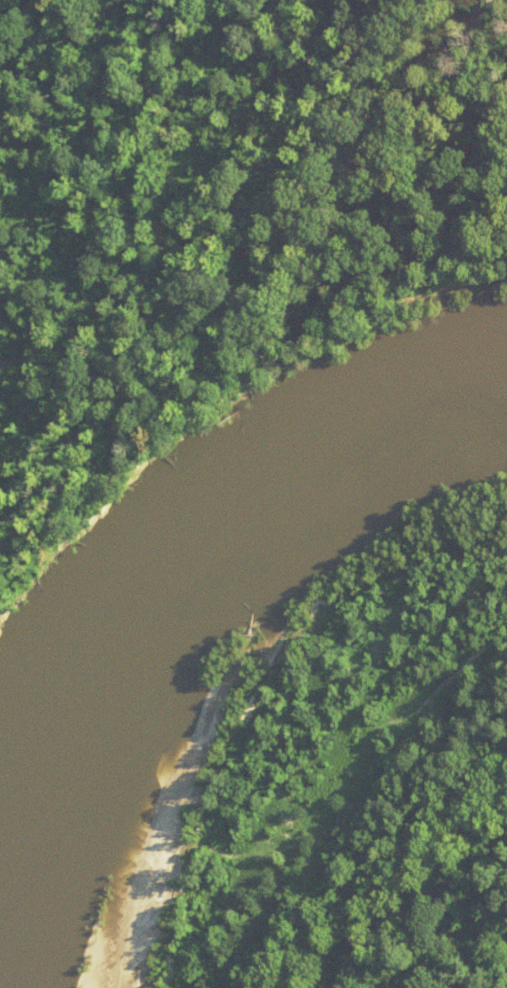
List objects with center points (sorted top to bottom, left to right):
river: (226, 546)

